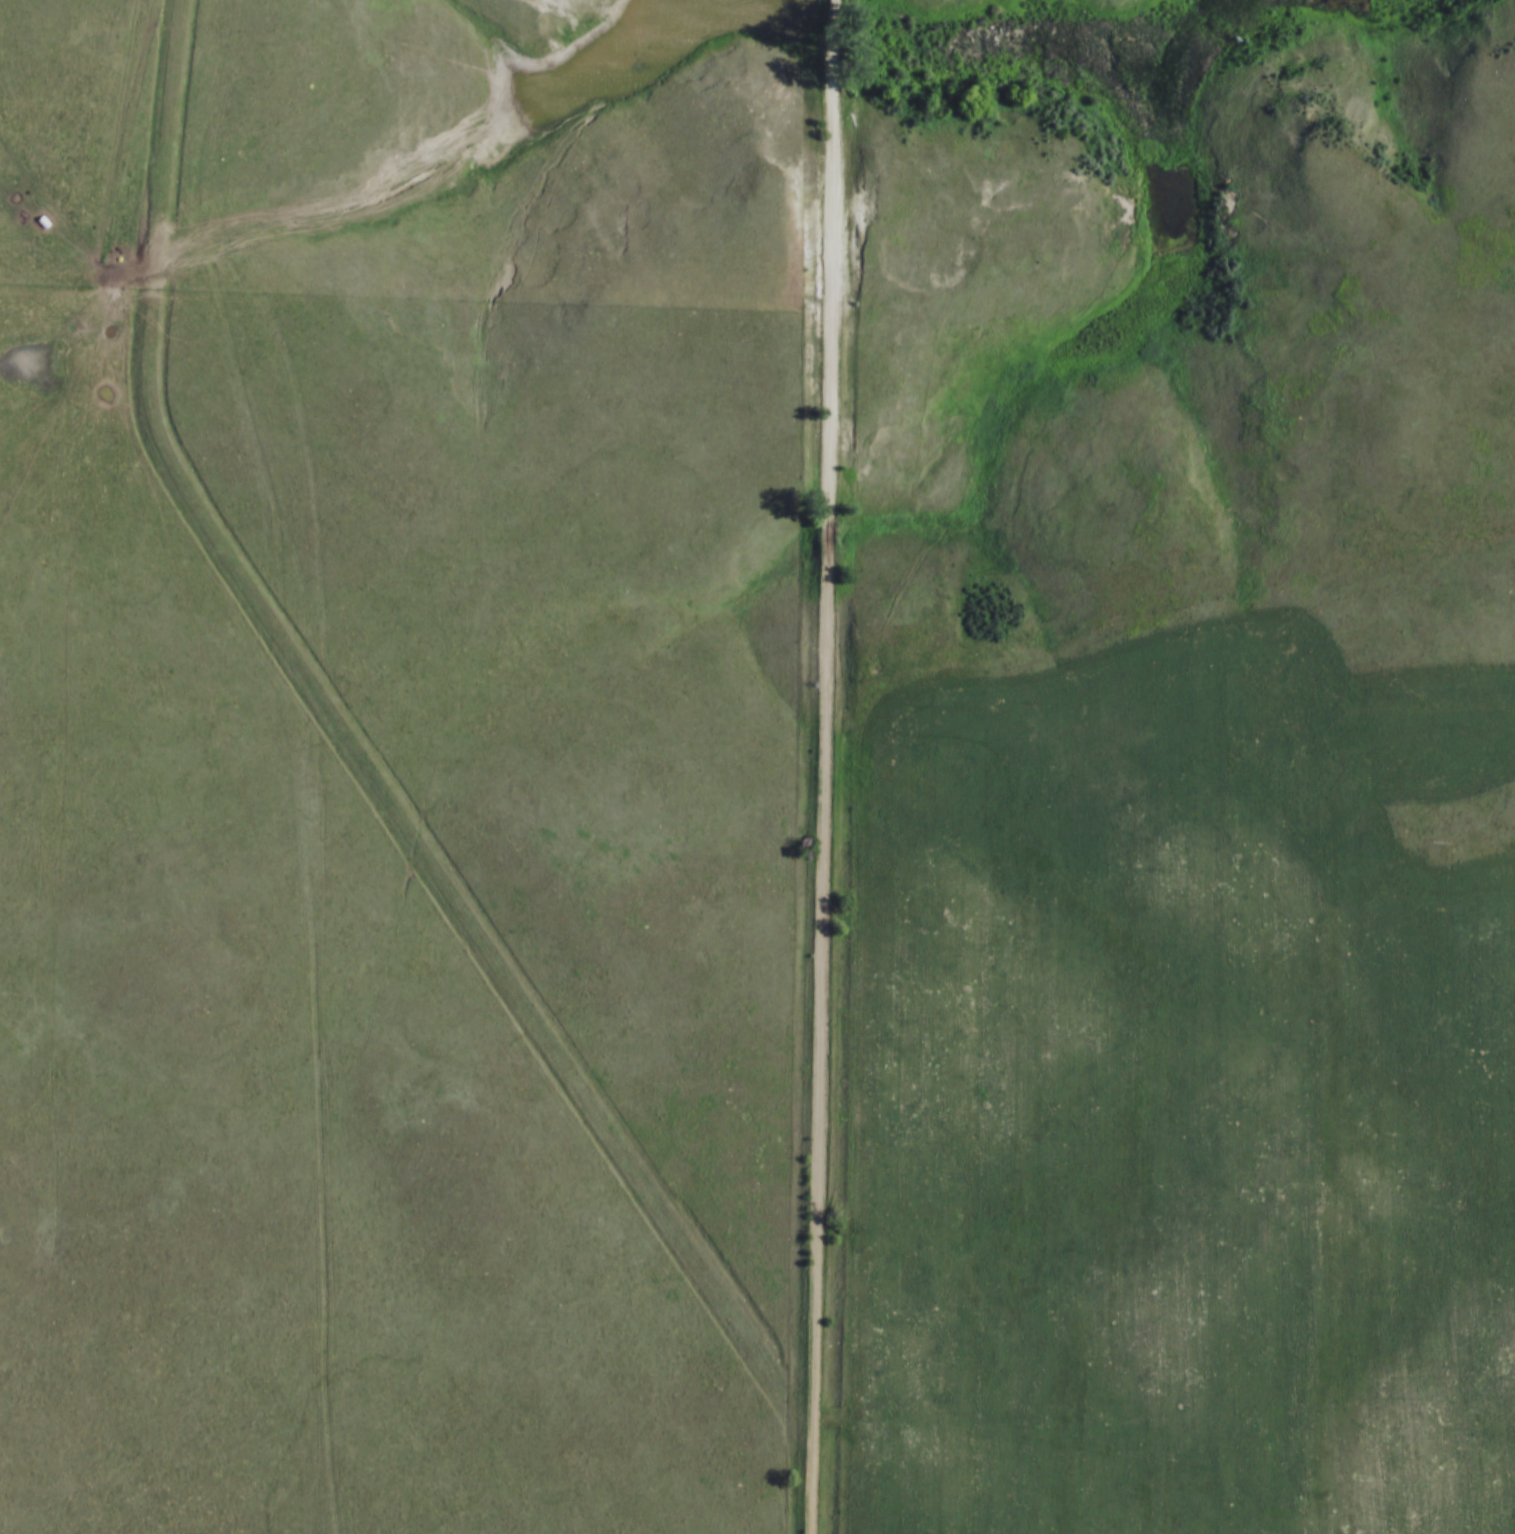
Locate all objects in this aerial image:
park: (1499, 22)
road: (824, 766)

